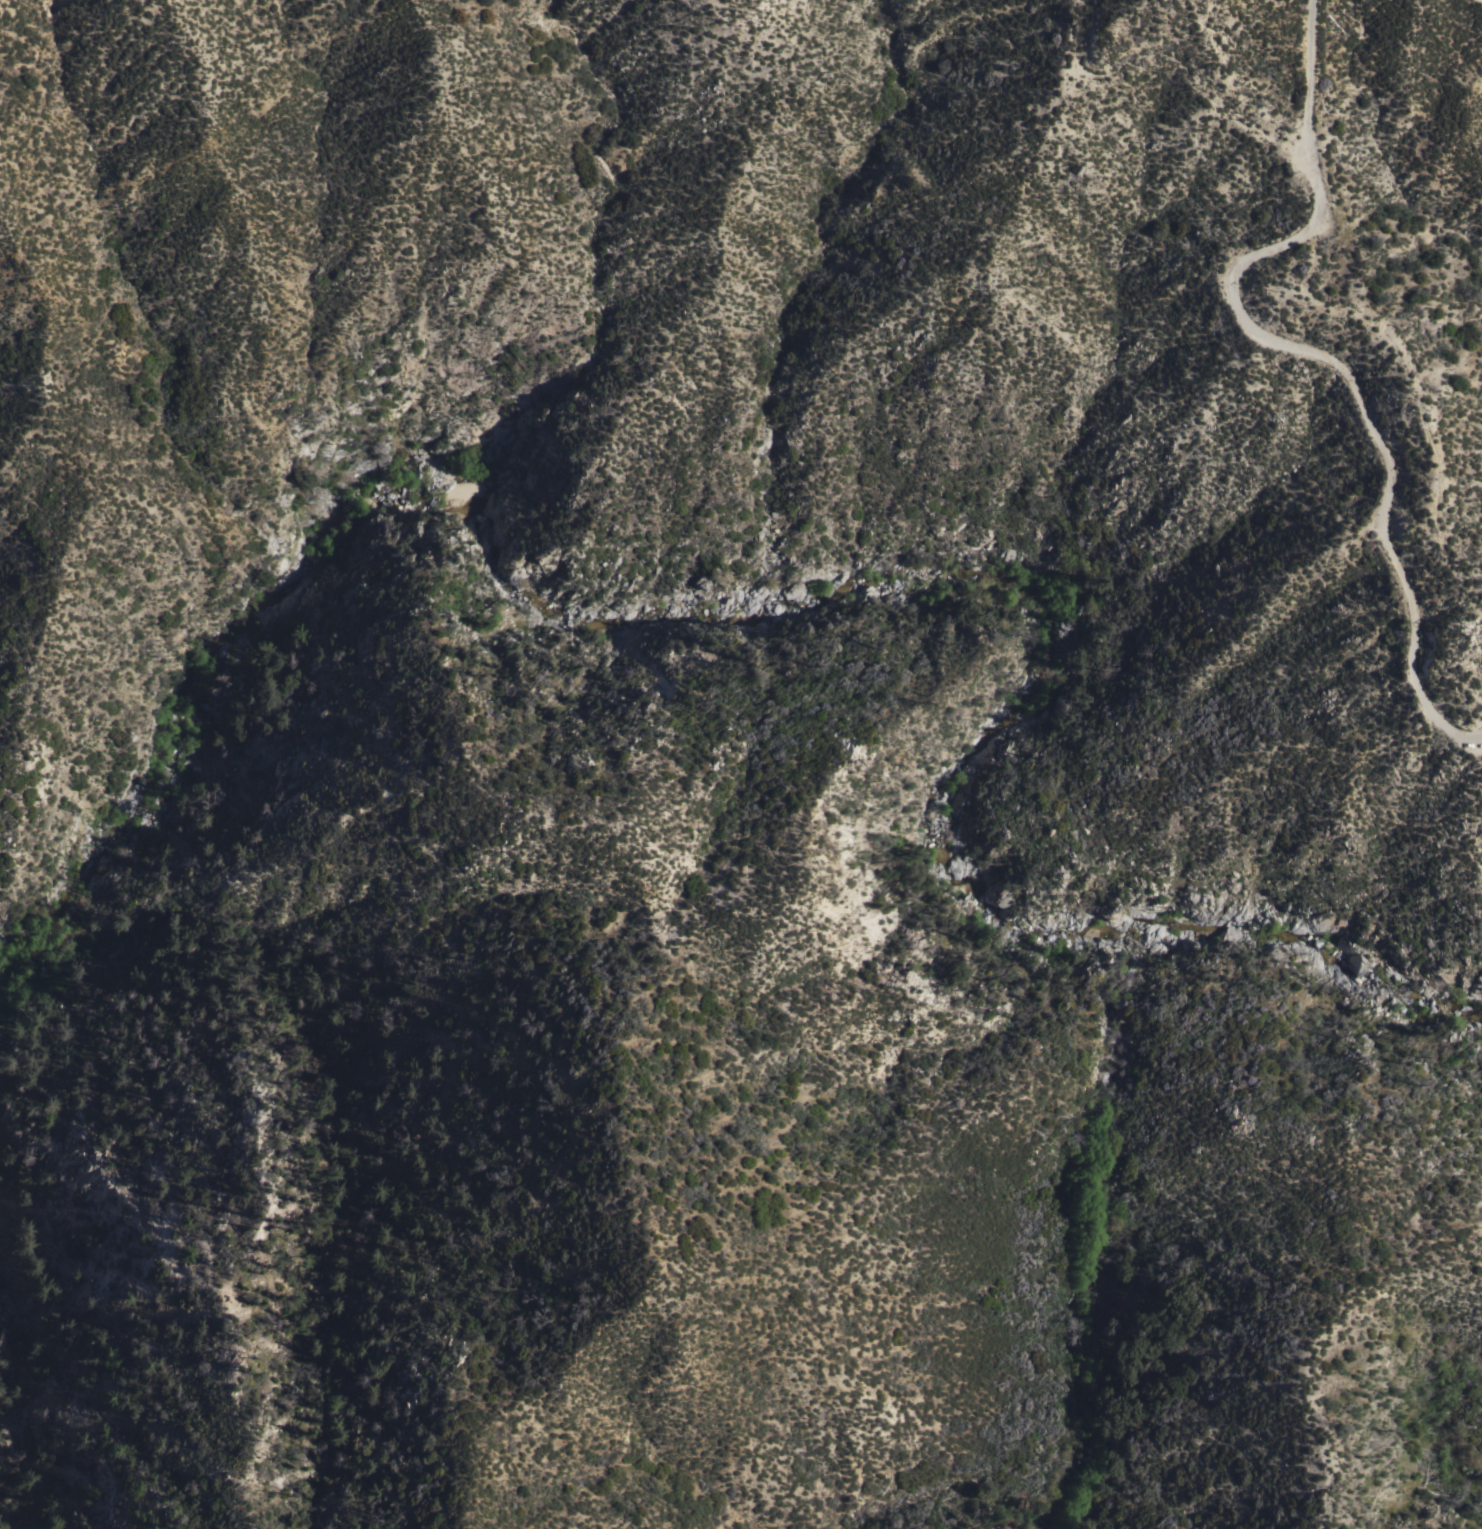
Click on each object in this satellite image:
road: (1173, 57)
road: (1328, 348)
river: (810, 589)

